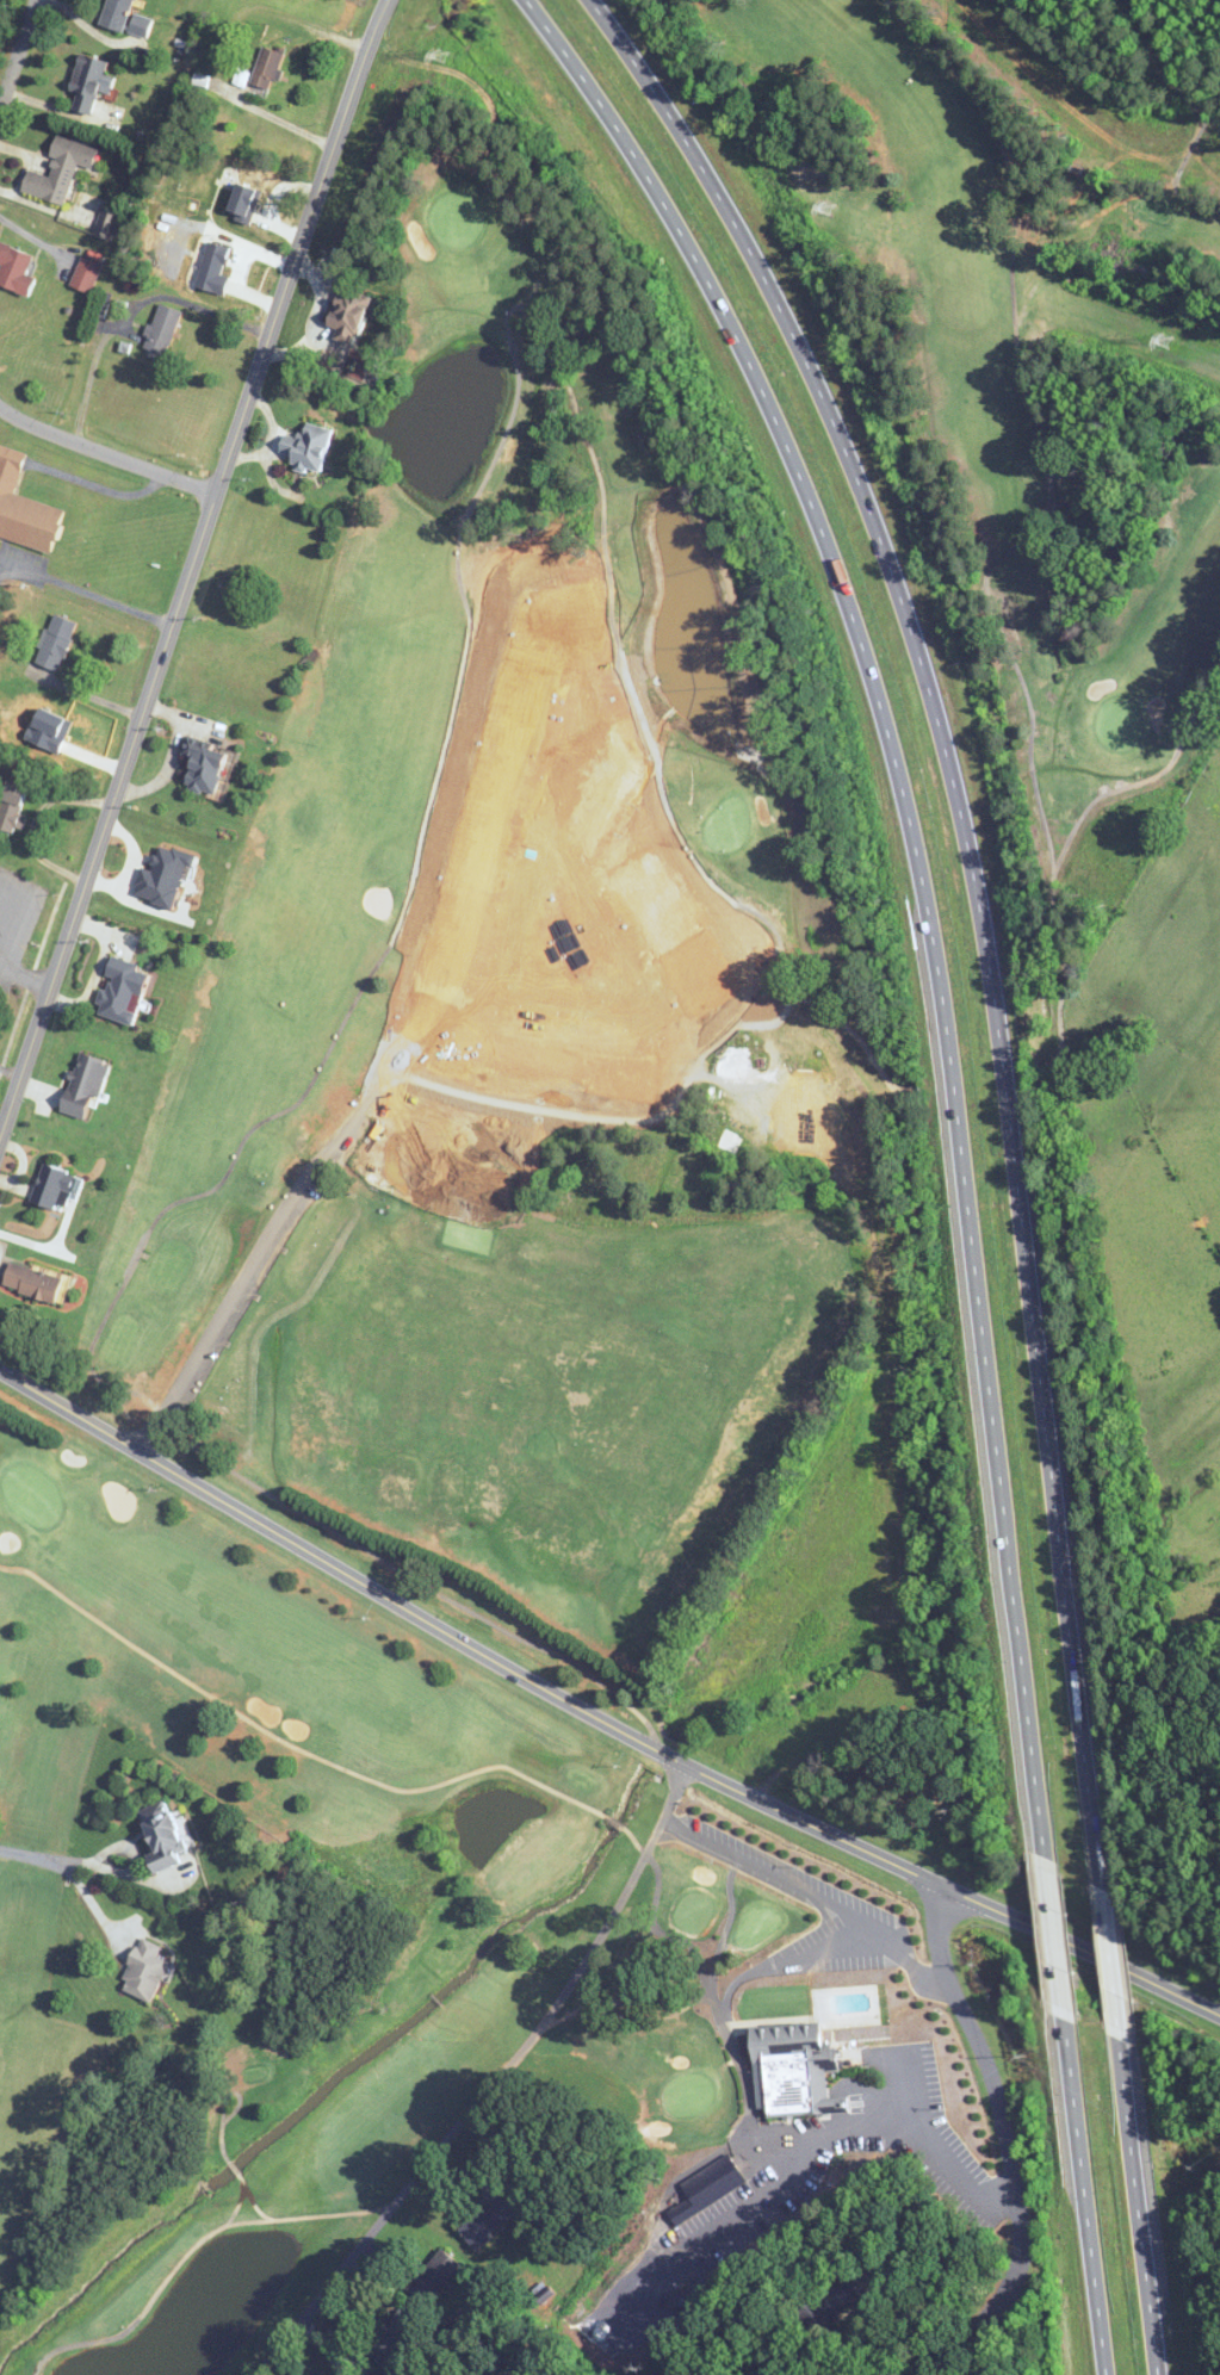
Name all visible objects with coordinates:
building: (124, 18)
road: (18, 54)
power tower: (441, 56)
building: (266, 69)
building: (89, 83)
road: (283, 120)
building: (61, 170)
power tower: (830, 207)
building: (107, 223)
building: (14, 269)
building: (87, 271)
road: (132, 311)
building: (348, 317)
building: (162, 328)
power tower: (1159, 342)
building: (308, 447)
road: (5, 449)
road: (106, 452)
road: (86, 480)
building: (24, 508)
road: (191, 566)
road: (86, 588)
building: (55, 641)
building: (204, 764)
building: (12, 806)
road: (921, 885)
road: (4, 886)
road: (980, 900)
road: (24, 974)
building: (123, 991)
building: (756, 1025)
building: (83, 1083)
building: (801, 1112)
building: (52, 1186)
park: (563, 1205)
building: (33, 1282)
road: (211, 1339)
road: (1188, 1648)
road: (596, 1714)
building: (809, 1773)
building: (162, 1836)
road: (38, 1858)
road: (135, 1875)
road: (778, 1875)
road: (1051, 1940)
road: (1110, 1964)
building: (144, 1970)
building: (795, 2069)
road: (490, 2084)
road: (749, 2097)
road: (1009, 2152)
building: (707, 2188)
road: (1084, 2199)
road: (1141, 2209)
building: (491, 2219)
building: (434, 2278)
building: (395, 2334)
building: (353, 2374)

